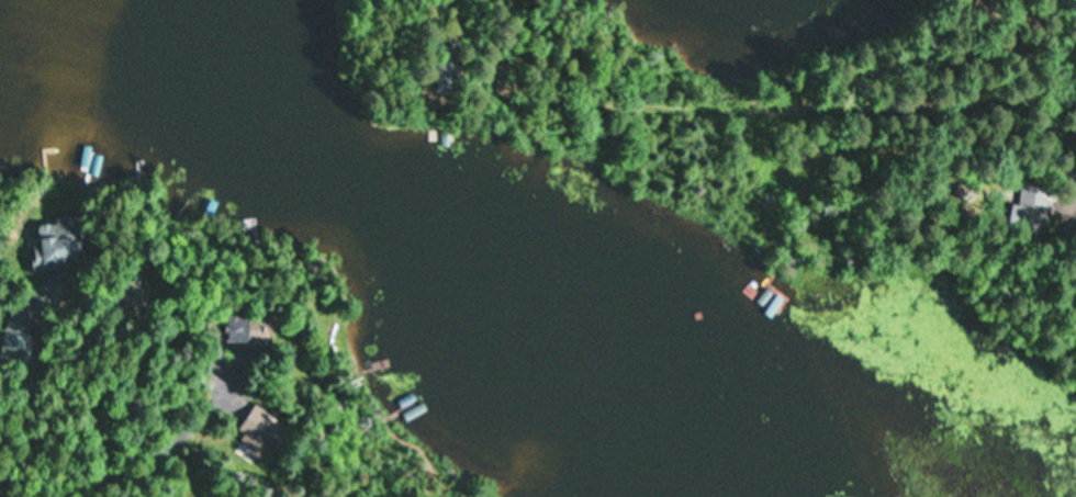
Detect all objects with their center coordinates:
river: (198, 65)
road: (892, 99)
building: (1071, 176)
building: (1032, 201)
building: (55, 247)
river: (461, 275)
building: (238, 329)
building: (259, 436)

